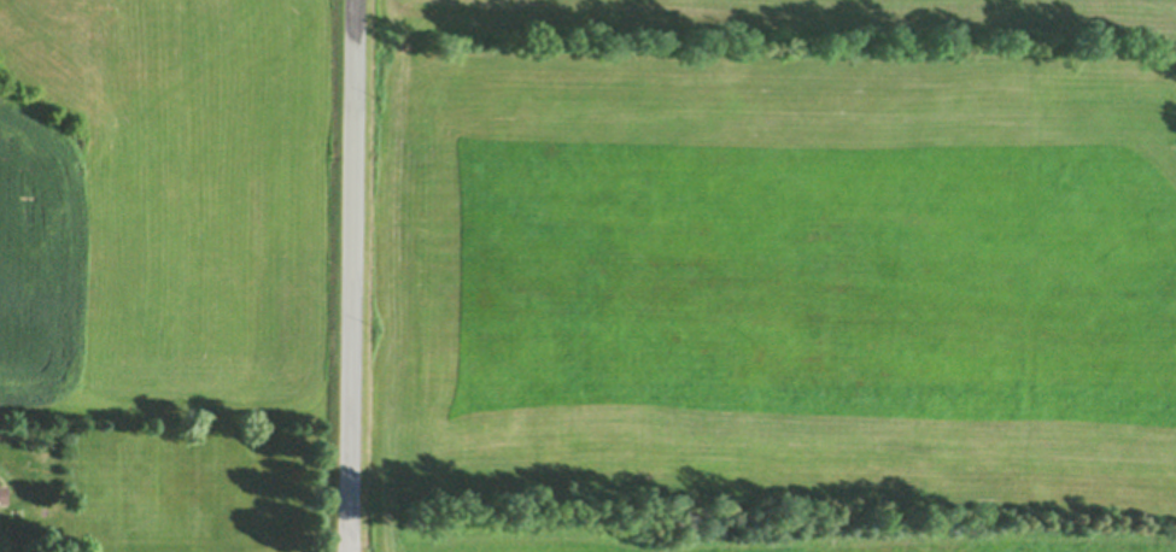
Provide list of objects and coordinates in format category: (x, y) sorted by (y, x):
road: (355, 276)
building: (4, 495)

